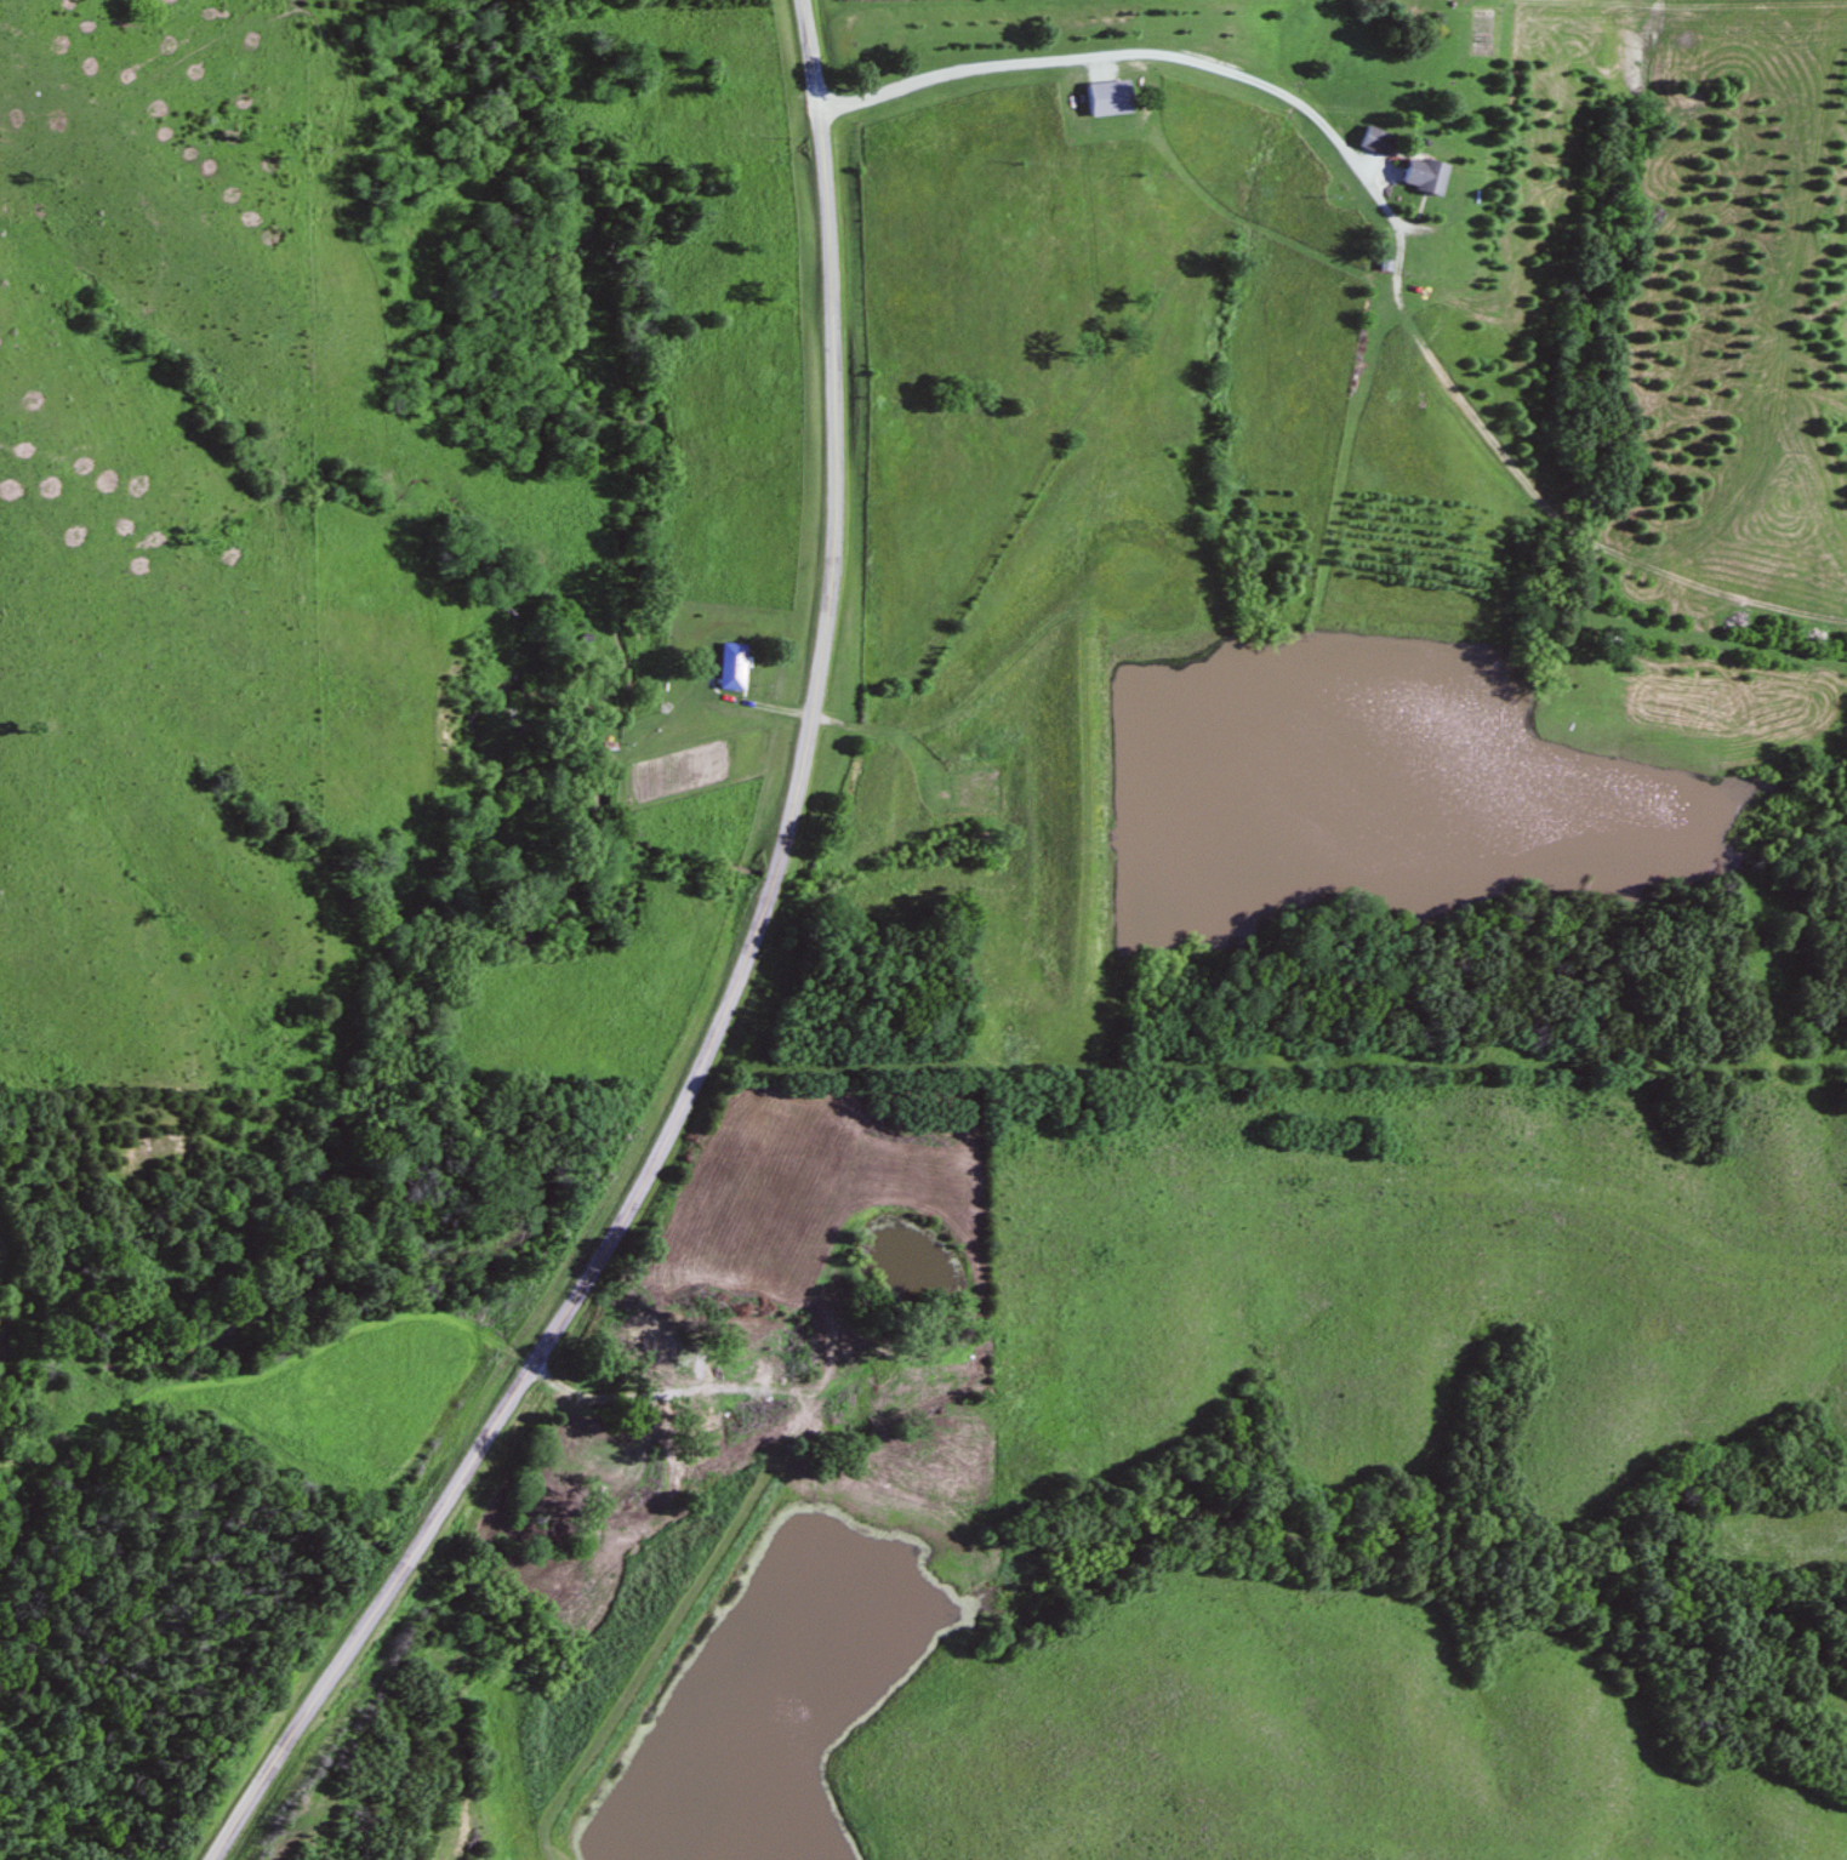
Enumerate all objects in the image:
road: (1140, 59)
building: (1102, 97)
building: (1372, 141)
building: (1418, 175)
building: (728, 666)
road: (731, 994)
building: (645, 1333)
building: (950, 1333)
road: (610, 1390)
building: (554, 1502)
building: (431, 1859)

